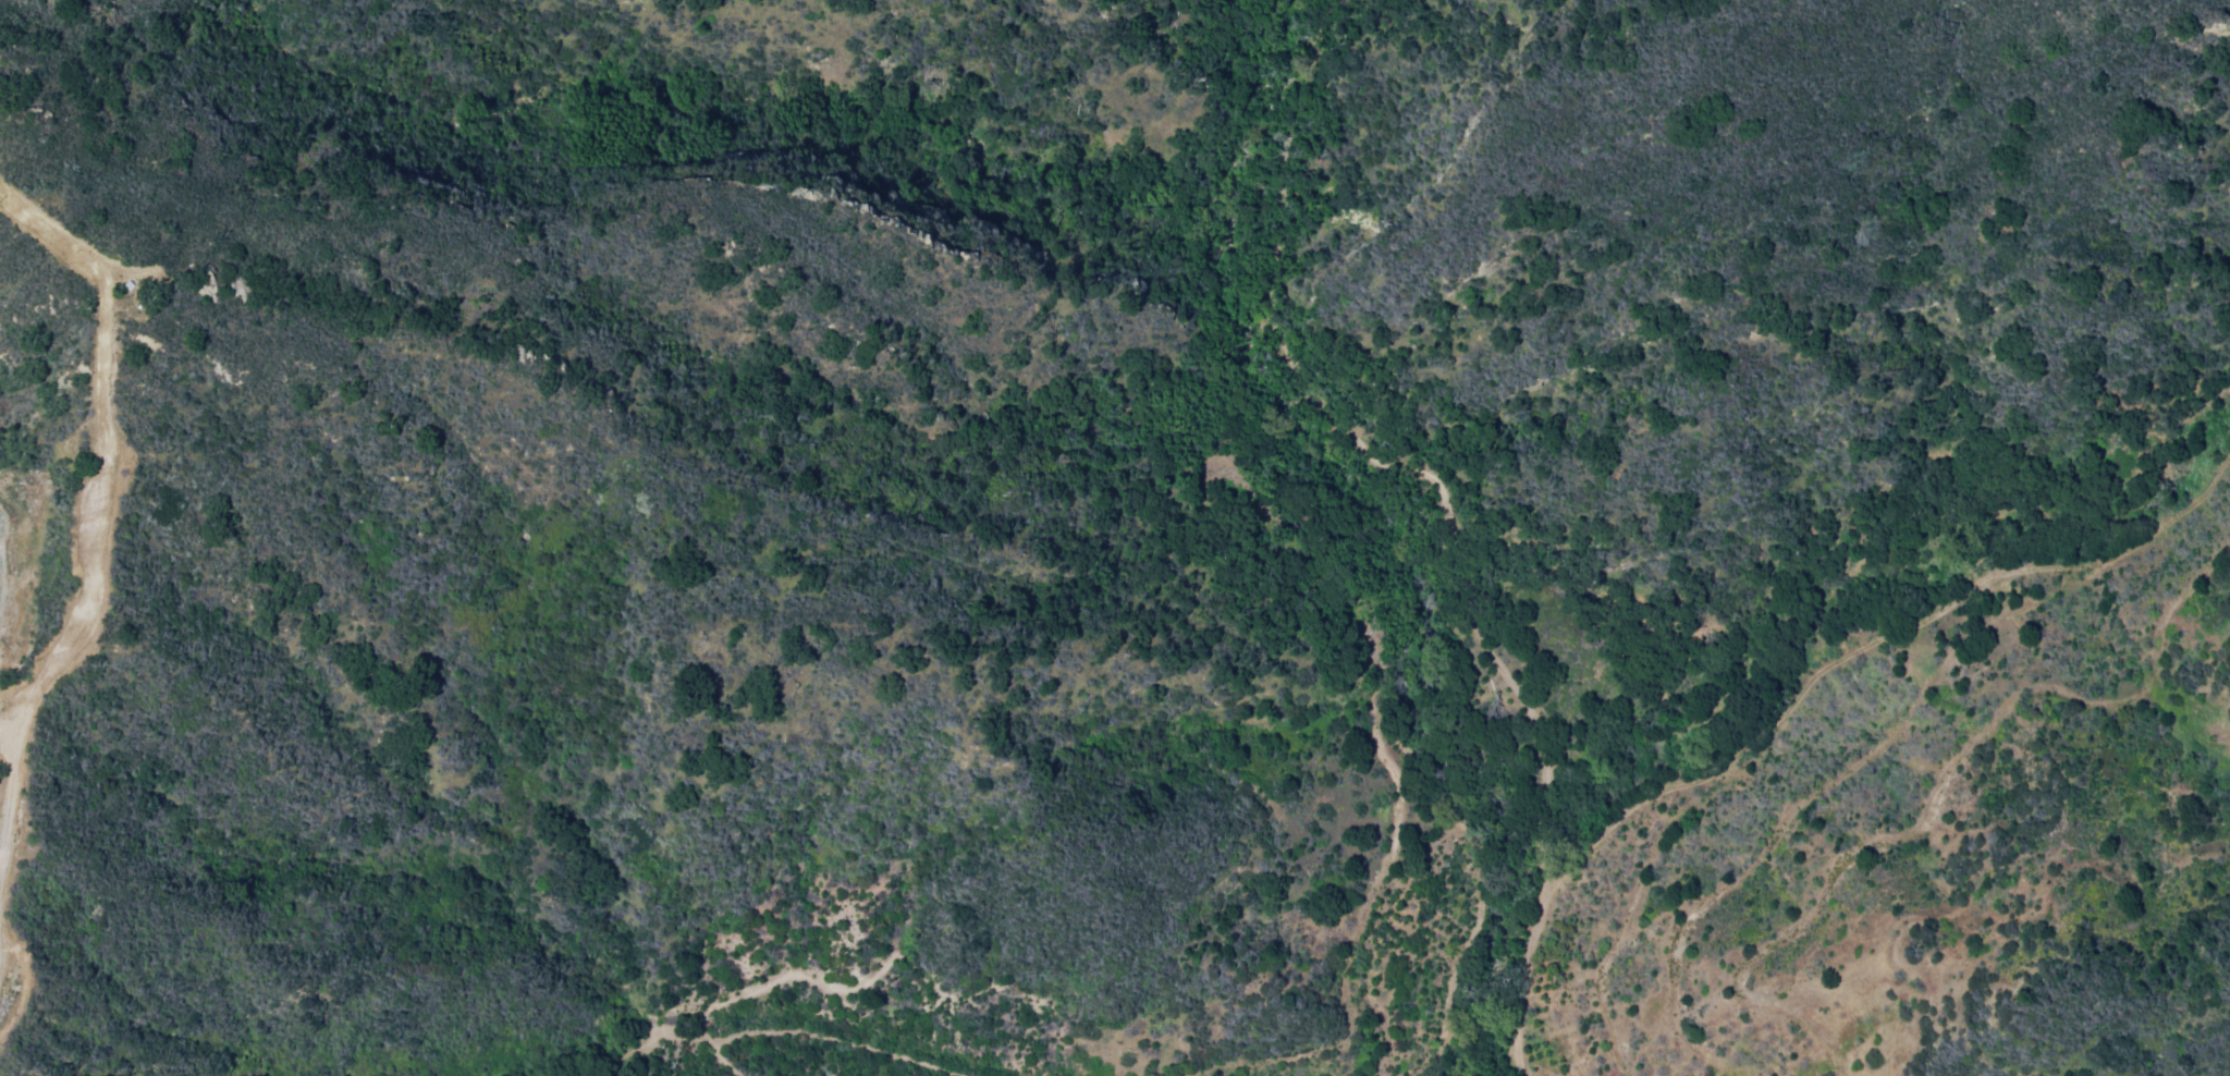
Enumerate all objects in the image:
road: (1297, 364)
landfill: (22, 585)
road: (1466, 726)
road: (1541, 871)
road: (1466, 926)

